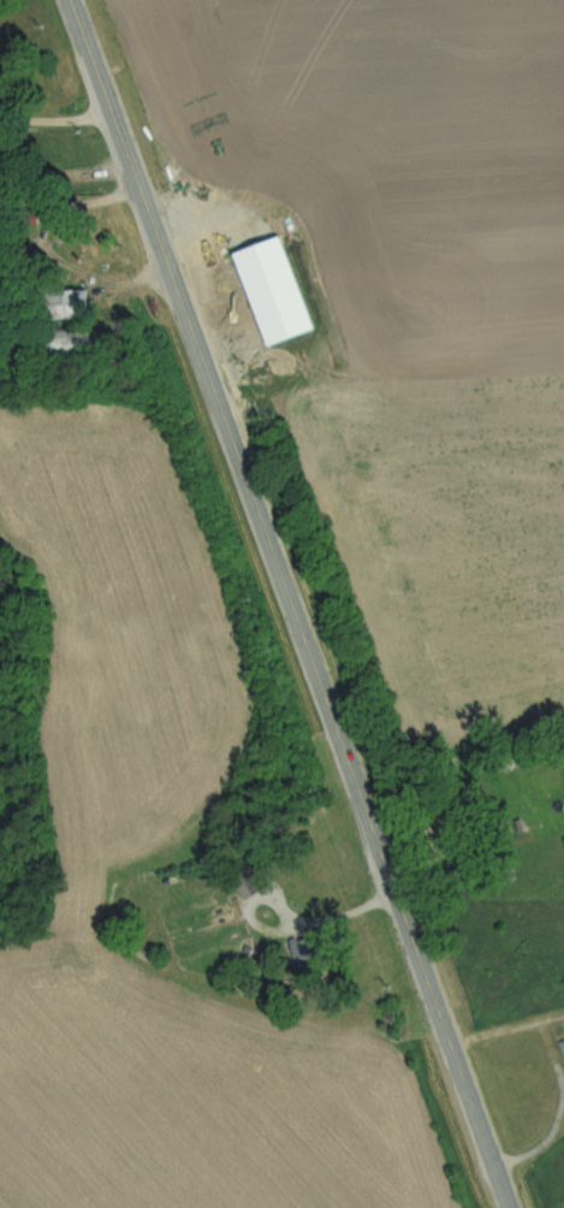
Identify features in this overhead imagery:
road: (58, 128)
road: (291, 603)
road: (506, 1028)
building: (560, 1049)

